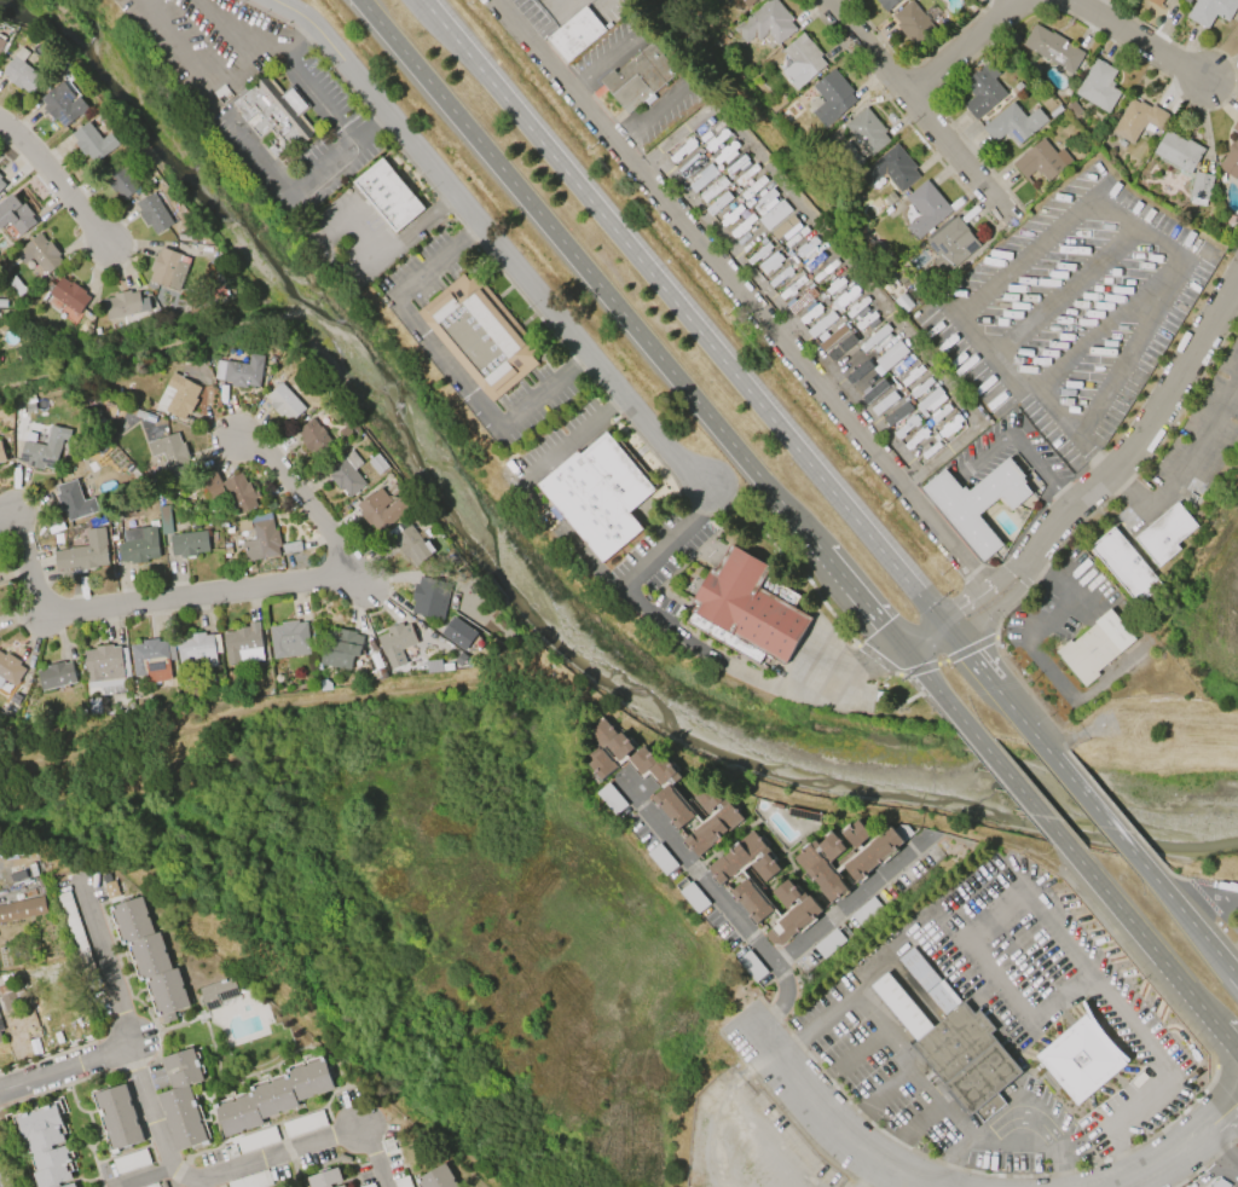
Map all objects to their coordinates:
building: (728, 1)
road: (1054, 1)
building: (748, 2)
building: (1156, 2)
road: (196, 4)
building: (886, 4)
building: (1210, 11)
road: (554, 19)
building: (765, 23)
building: (912, 24)
road: (227, 33)
building: (575, 34)
building: (2, 45)
road: (284, 47)
building: (1052, 48)
road: (608, 58)
building: (802, 60)
road: (192, 62)
building: (22, 73)
road: (571, 75)
building: (638, 77)
building: (1098, 86)
building: (982, 91)
road: (322, 94)
building: (831, 98)
building: (776, 103)
building: (63, 104)
road: (660, 110)
building: (273, 111)
building: (1055, 111)
road: (920, 112)
building: (1138, 118)
building: (1013, 123)
building: (1234, 127)
road: (619, 131)
building: (866, 131)
building: (93, 143)
building: (1178, 151)
road: (261, 160)
building: (1231, 160)
building: (1041, 161)
building: (891, 169)
road: (325, 170)
road: (57, 179)
building: (700, 180)
building: (121, 181)
building: (2, 184)
building: (1199, 189)
building: (388, 195)
building: (925, 209)
building: (154, 214)
building: (16, 215)
building: (183, 237)
road: (1132, 237)
road: (492, 238)
road: (400, 247)
building: (950, 247)
building: (39, 254)
road: (1023, 257)
road: (846, 261)
road: (439, 265)
building: (168, 268)
road: (745, 294)
building: (69, 295)
road: (1063, 295)
building: (123, 305)
building: (62, 309)
road: (679, 315)
road: (629, 325)
building: (479, 335)
road: (1089, 338)
road: (1128, 351)
building: (895, 353)
road: (447, 367)
building: (243, 371)
road: (1032, 393)
road: (544, 394)
building: (180, 395)
building: (284, 403)
building: (896, 415)
road: (1142, 435)
road: (572, 439)
building: (1237, 439)
building: (316, 440)
building: (42, 450)
building: (169, 451)
building: (2, 458)
road: (984, 458)
road: (1031, 461)
building: (377, 464)
road: (1179, 467)
building: (346, 471)
road: (944, 490)
building: (231, 491)
road: (1060, 492)
building: (598, 494)
road: (919, 496)
building: (74, 500)
building: (978, 502)
building: (384, 508)
building: (162, 520)
building: (1164, 534)
road: (571, 538)
building: (57, 539)
building: (261, 540)
road: (670, 540)
building: (187, 544)
building: (412, 545)
building: (137, 549)
building: (83, 552)
building: (1124, 566)
road: (1003, 573)
road: (224, 590)
road: (1016, 590)
river: (536, 591)
building: (429, 597)
road: (962, 604)
building: (746, 608)
road: (972, 625)
traffic signals: (947, 627)
building: (458, 633)
road: (925, 637)
building: (289, 639)
building: (395, 643)
building: (243, 644)
building: (340, 648)
traffic signals: (903, 648)
building: (1092, 648)
building: (197, 650)
building: (151, 659)
building: (10, 667)
building: (105, 668)
road: (984, 673)
road: (757, 674)
building: (56, 676)
road: (926, 676)
building: (324, 685)
building: (93, 706)
building: (607, 748)
building: (654, 766)
road: (1007, 774)
road: (1078, 788)
building: (611, 799)
building: (672, 807)
building: (802, 815)
building: (713, 820)
building: (855, 833)
building: (877, 851)
building: (661, 859)
building: (745, 859)
building: (822, 865)
building: (16, 875)
building: (694, 898)
building: (751, 901)
road: (852, 901)
road: (1207, 903)
building: (23, 908)
road: (731, 909)
building: (792, 911)
building: (864, 911)
road: (1179, 911)
road: (1128, 922)
building: (75, 933)
building: (829, 943)
road: (898, 950)
road: (1012, 954)
building: (150, 957)
building: (751, 966)
road: (1088, 973)
road: (1231, 973)
building: (928, 982)
road: (971, 988)
building: (218, 992)
road: (1055, 1011)
building: (6, 1012)
road: (1214, 1029)
road: (785, 1044)
building: (34, 1047)
road: (860, 1049)
building: (1077, 1052)
building: (966, 1058)
road: (64, 1065)
road: (914, 1065)
road: (895, 1087)
building: (274, 1096)
building: (181, 1101)
road: (717, 1111)
road: (1225, 1112)
building: (117, 1118)
road: (829, 1119)
road: (924, 1122)
building: (302, 1124)
road: (1121, 1125)
road: (1016, 1133)
road: (1223, 1136)
building: (256, 1140)
building: (45, 1146)
road: (765, 1147)
road: (168, 1151)
road: (1233, 1158)
road: (1168, 1159)
building: (131, 1162)
road: (948, 1166)
road: (1233, 1168)
road: (867, 1172)
road: (141, 1176)
building: (436, 1177)
road: (1060, 1177)
building: (324, 1179)
building: (251, 1180)
building: (401, 1182)
building: (1220, 1183)
building: (151, 1185)
road: (197, 1185)
building: (369, 1185)
building: (341, 1186)

